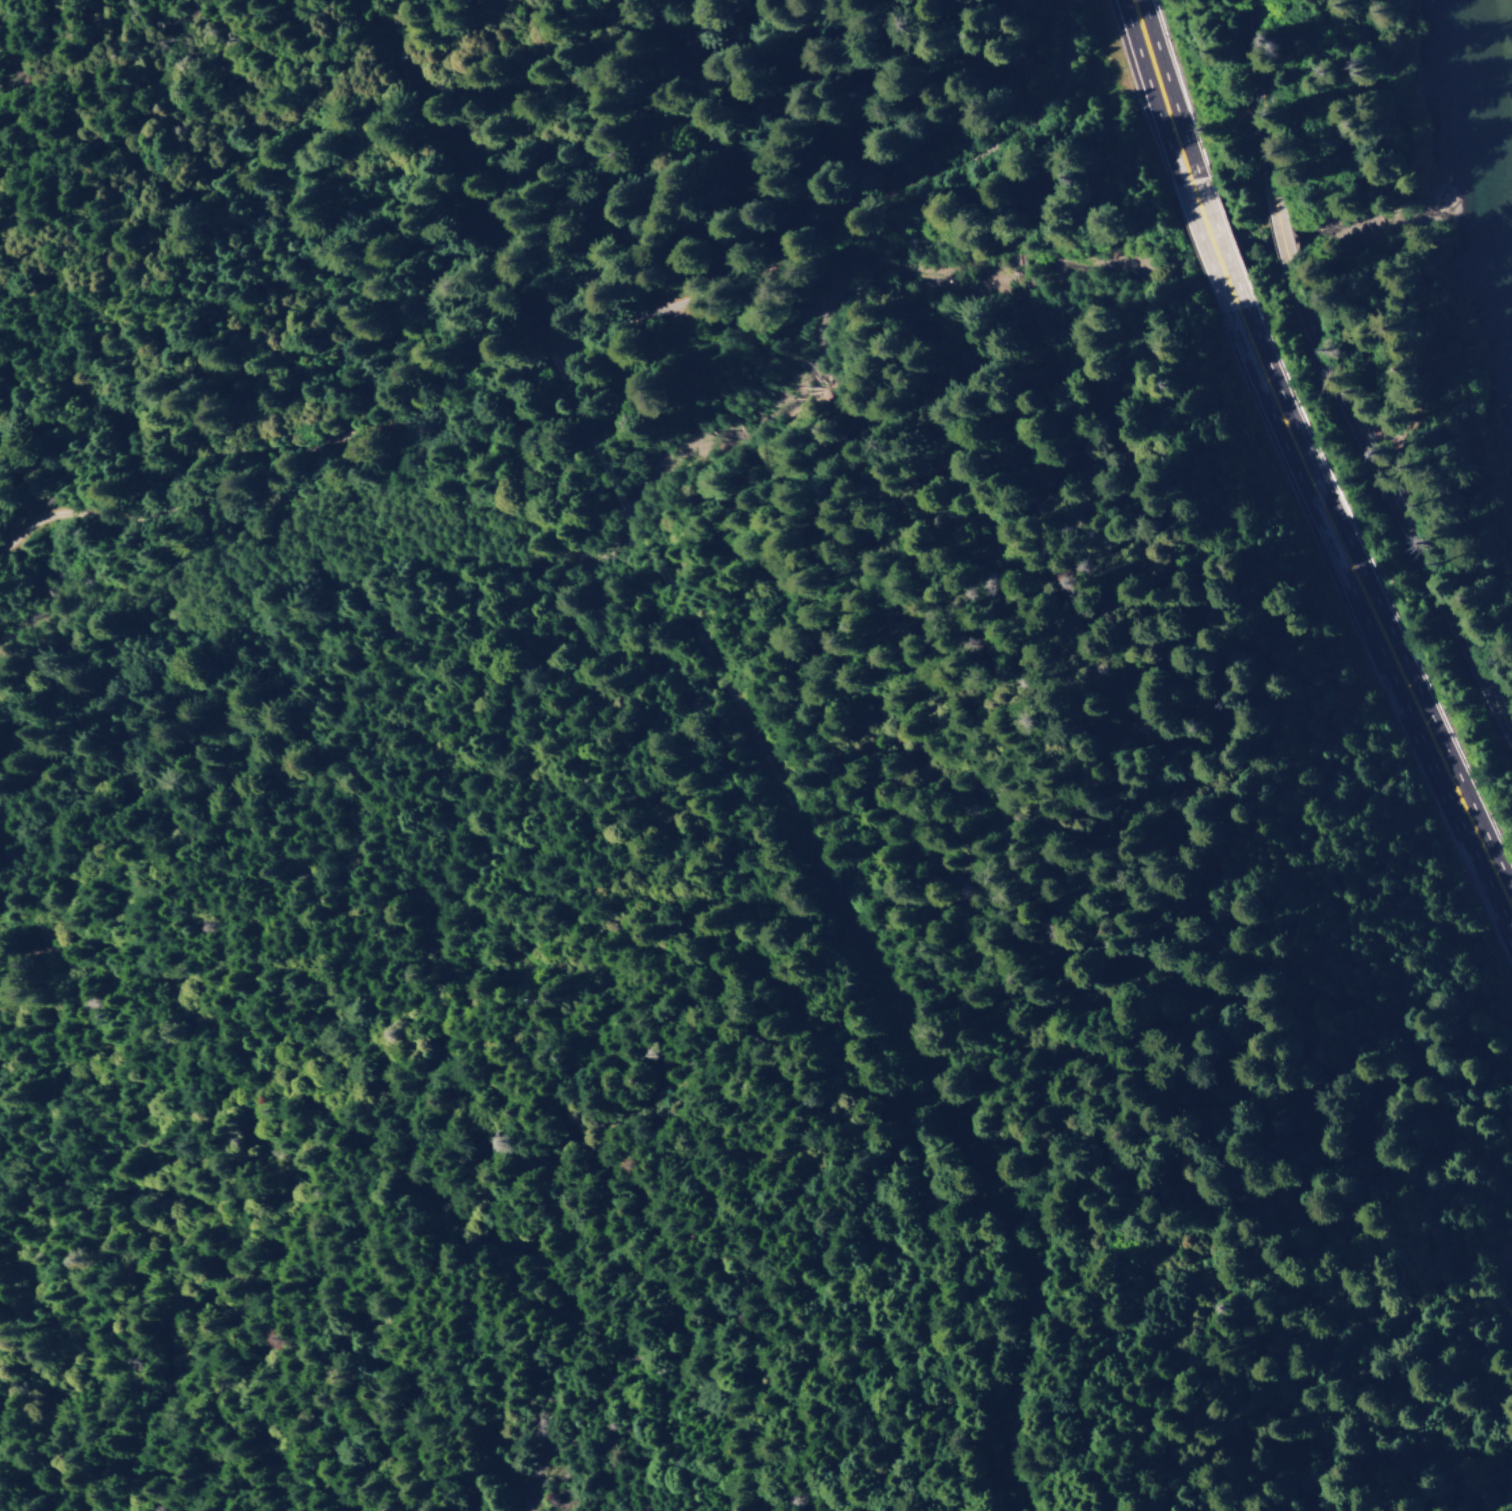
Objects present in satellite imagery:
road: (1164, 91)
road: (1261, 104)
road: (1218, 248)
road: (1291, 281)
road: (582, 339)
road: (1316, 500)
road: (1413, 551)
park: (945, 715)
road: (1452, 799)
road: (954, 1480)
road: (1004, 1480)

